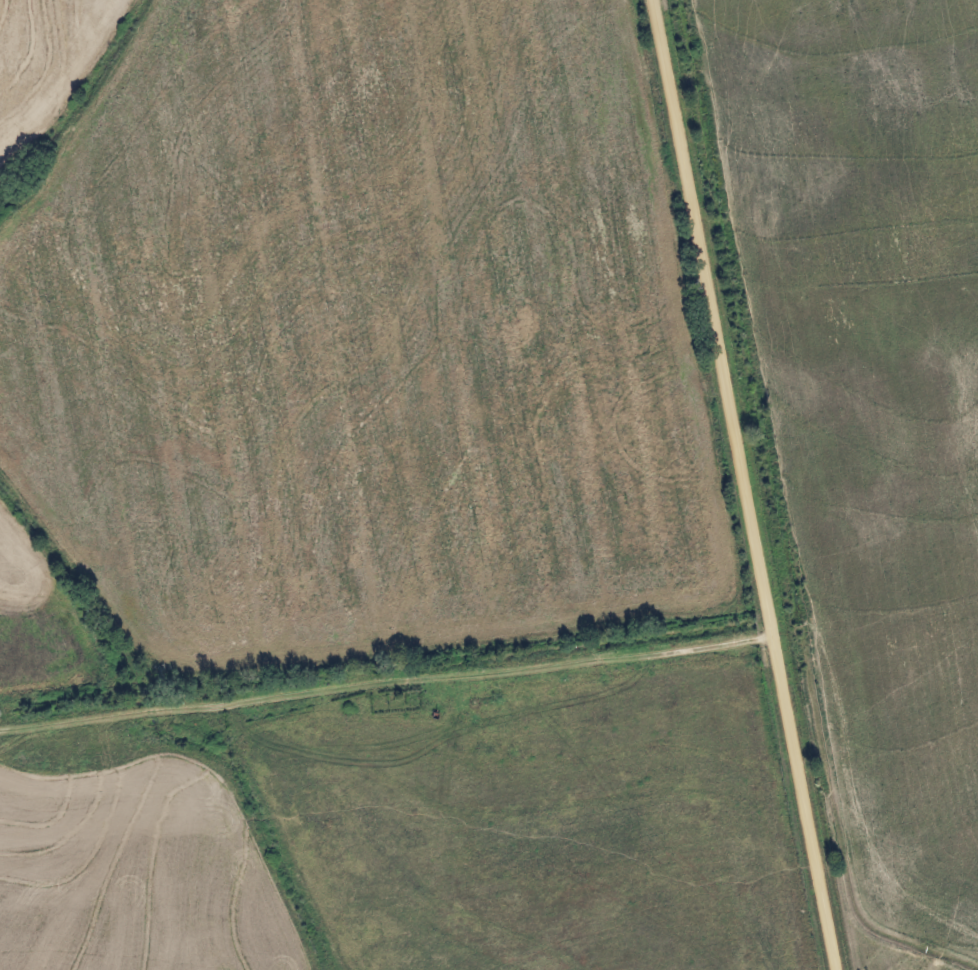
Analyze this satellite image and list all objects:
road: (749, 485)
road: (388, 682)

